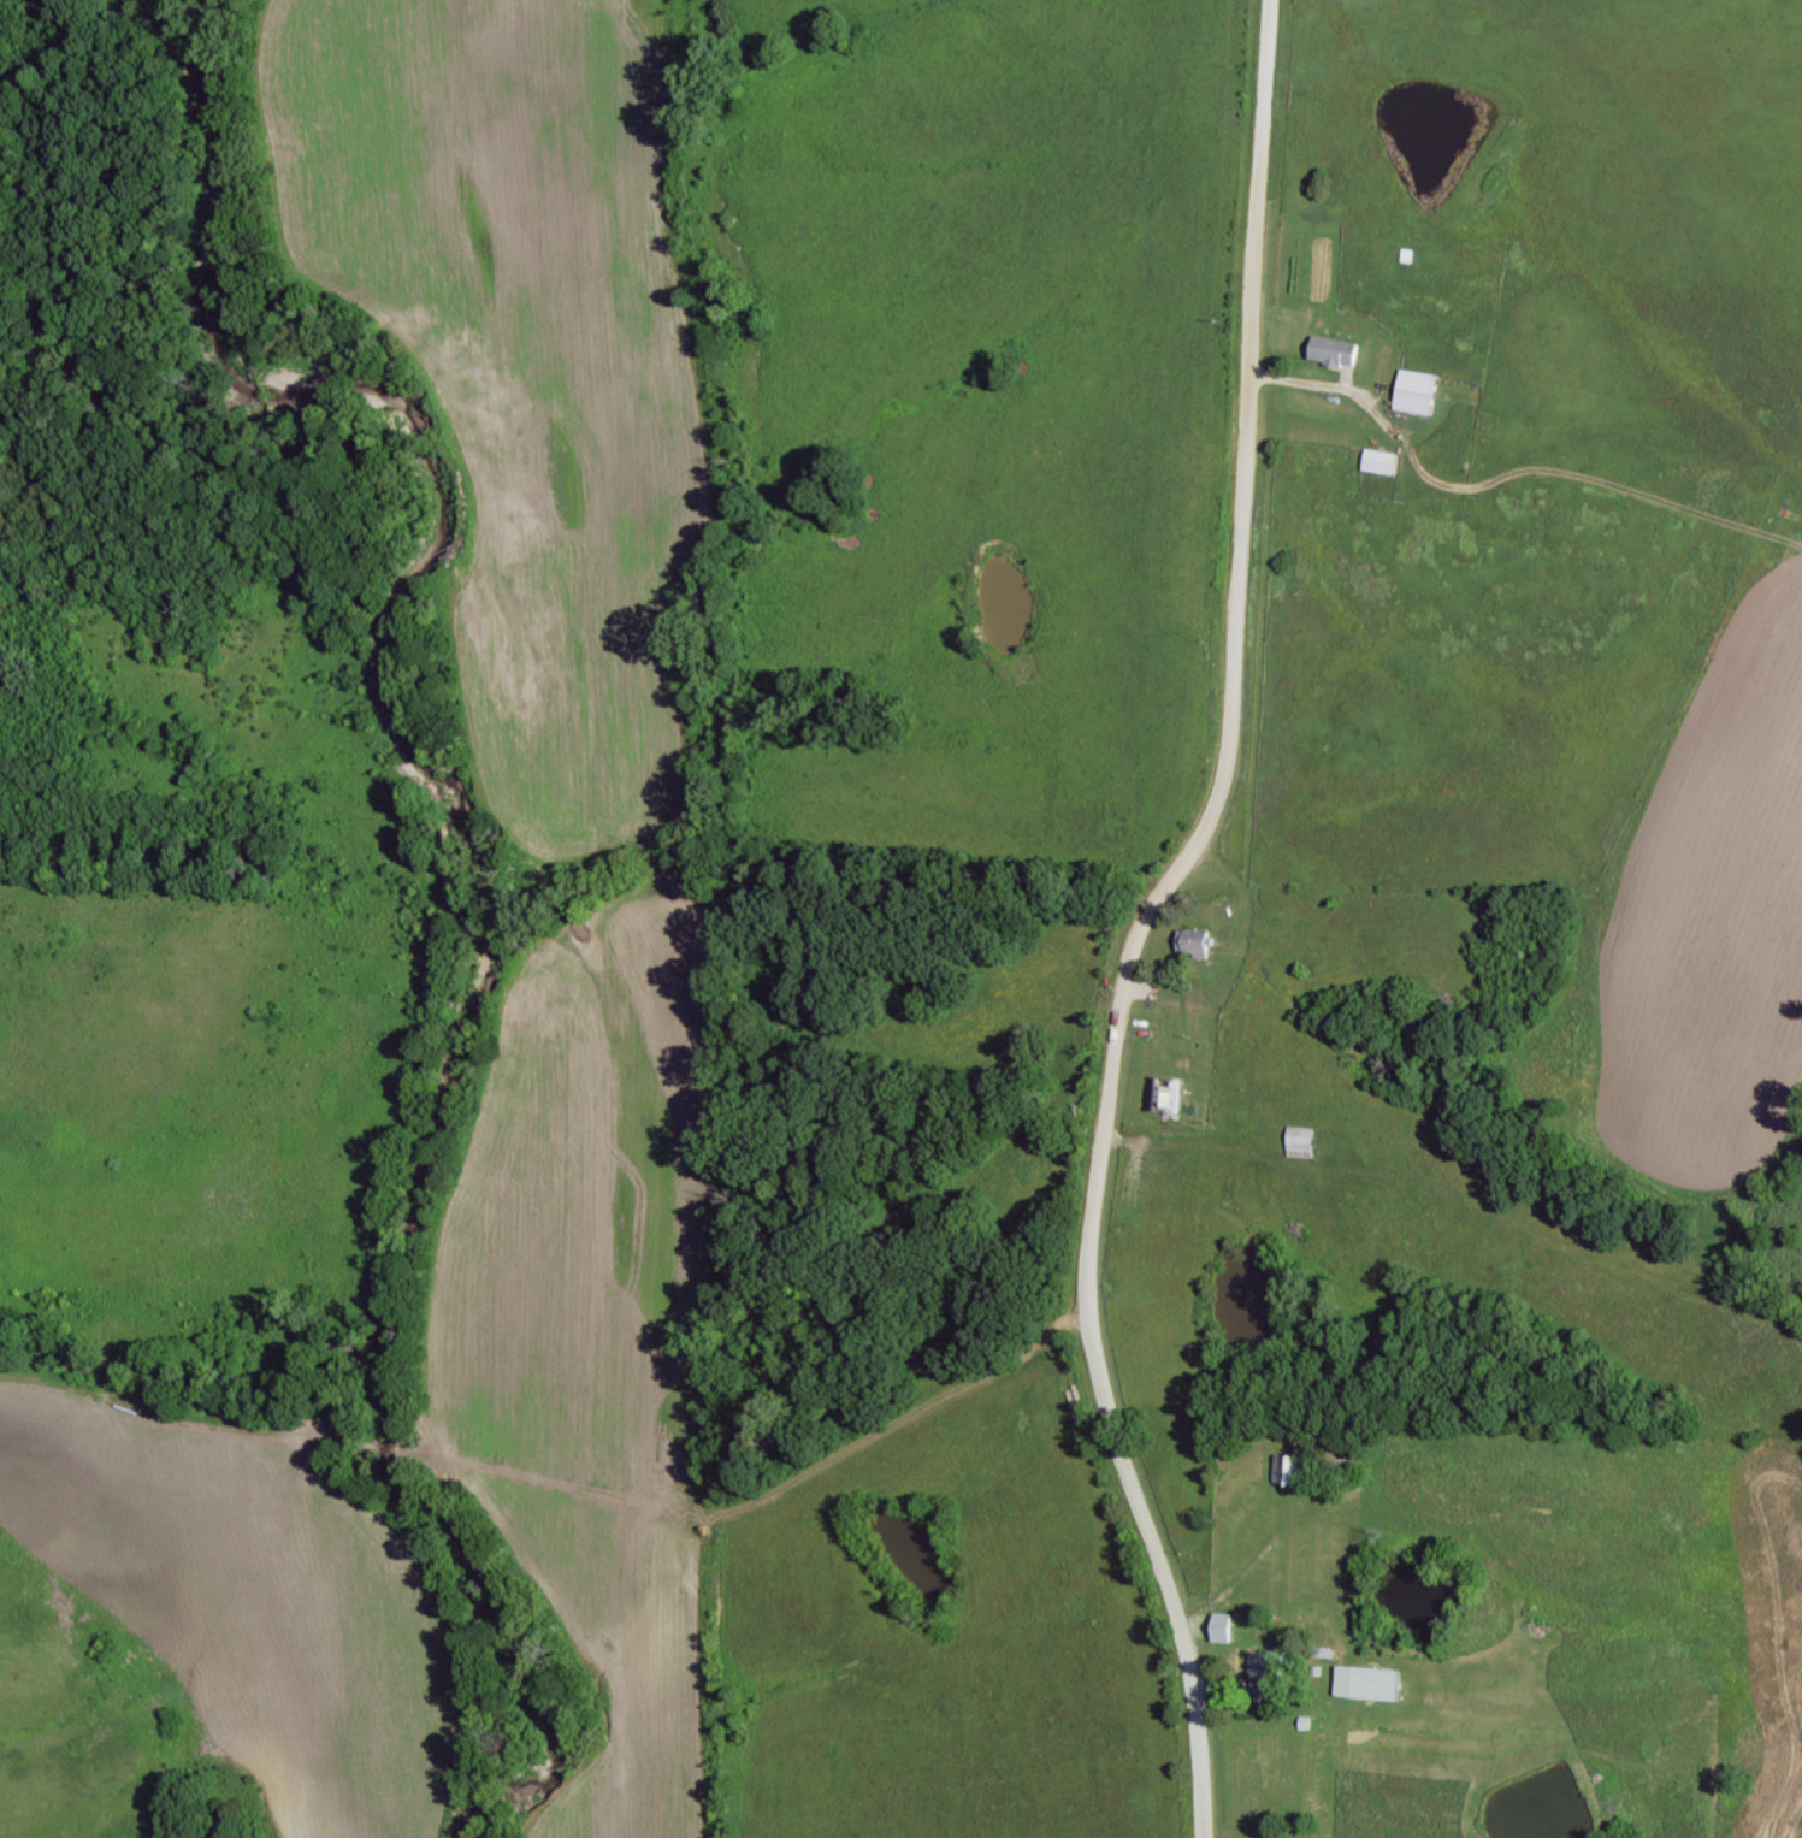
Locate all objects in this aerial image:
building: (1333, 353)
building: (1417, 394)
building: (1381, 463)
road: (1142, 921)
building: (1194, 945)
building: (1165, 1095)
building: (1301, 1137)
building: (1288, 1470)
building: (1221, 1629)
building: (1263, 1678)
building: (1366, 1684)

